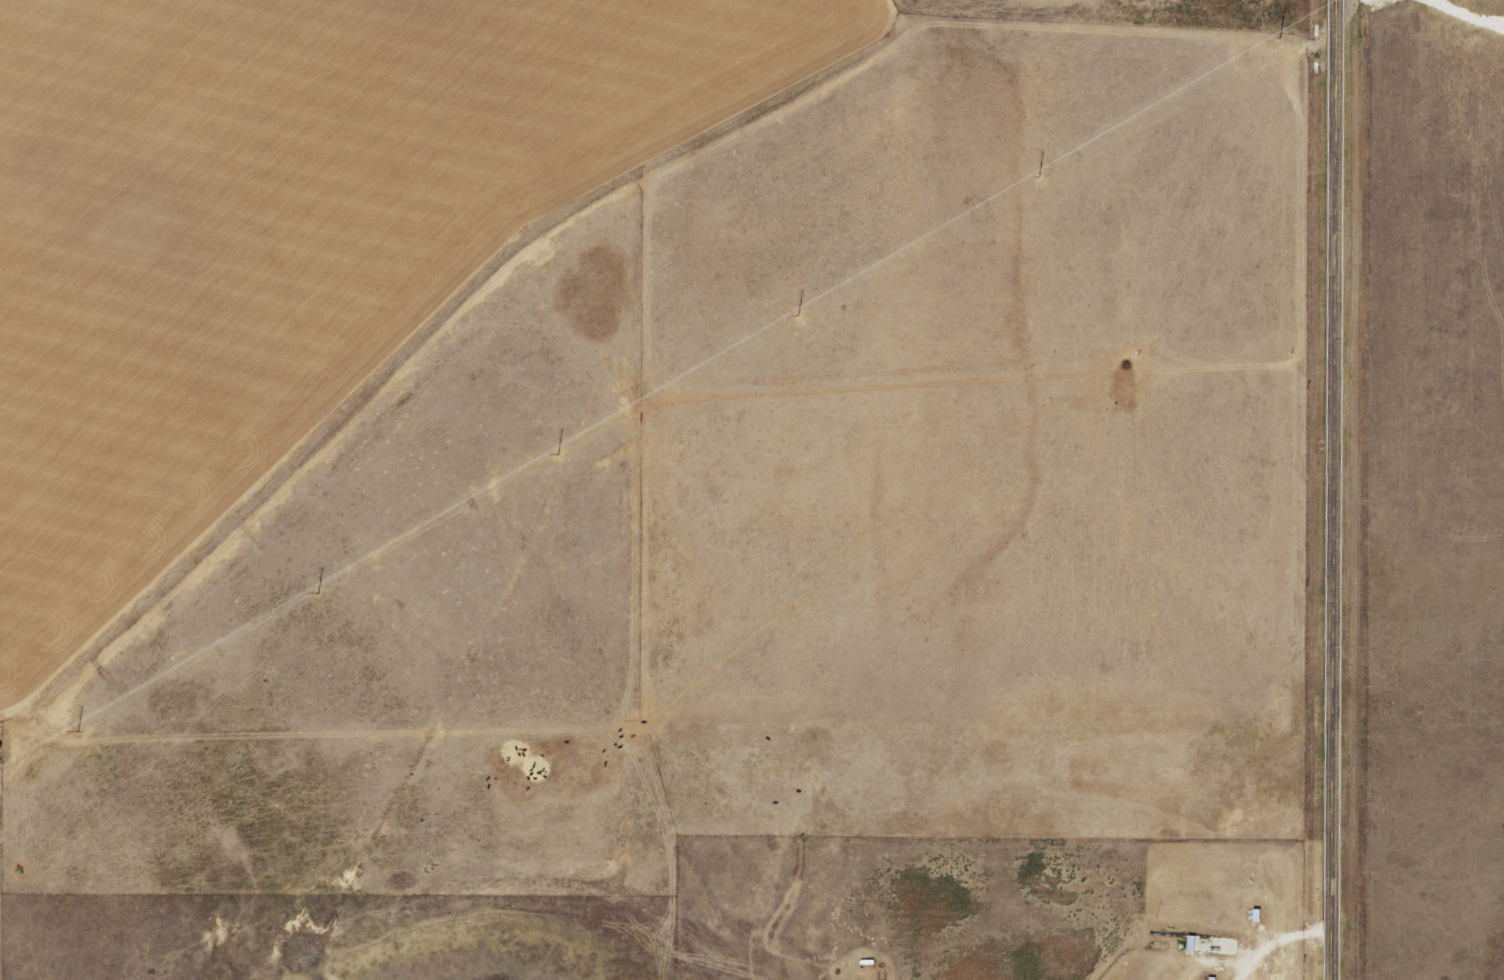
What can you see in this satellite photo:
power tower: (1244, 56)
power tower: (980, 212)
power tower: (725, 362)
road: (1334, 489)
power tower: (471, 505)
power tower: (215, 652)

